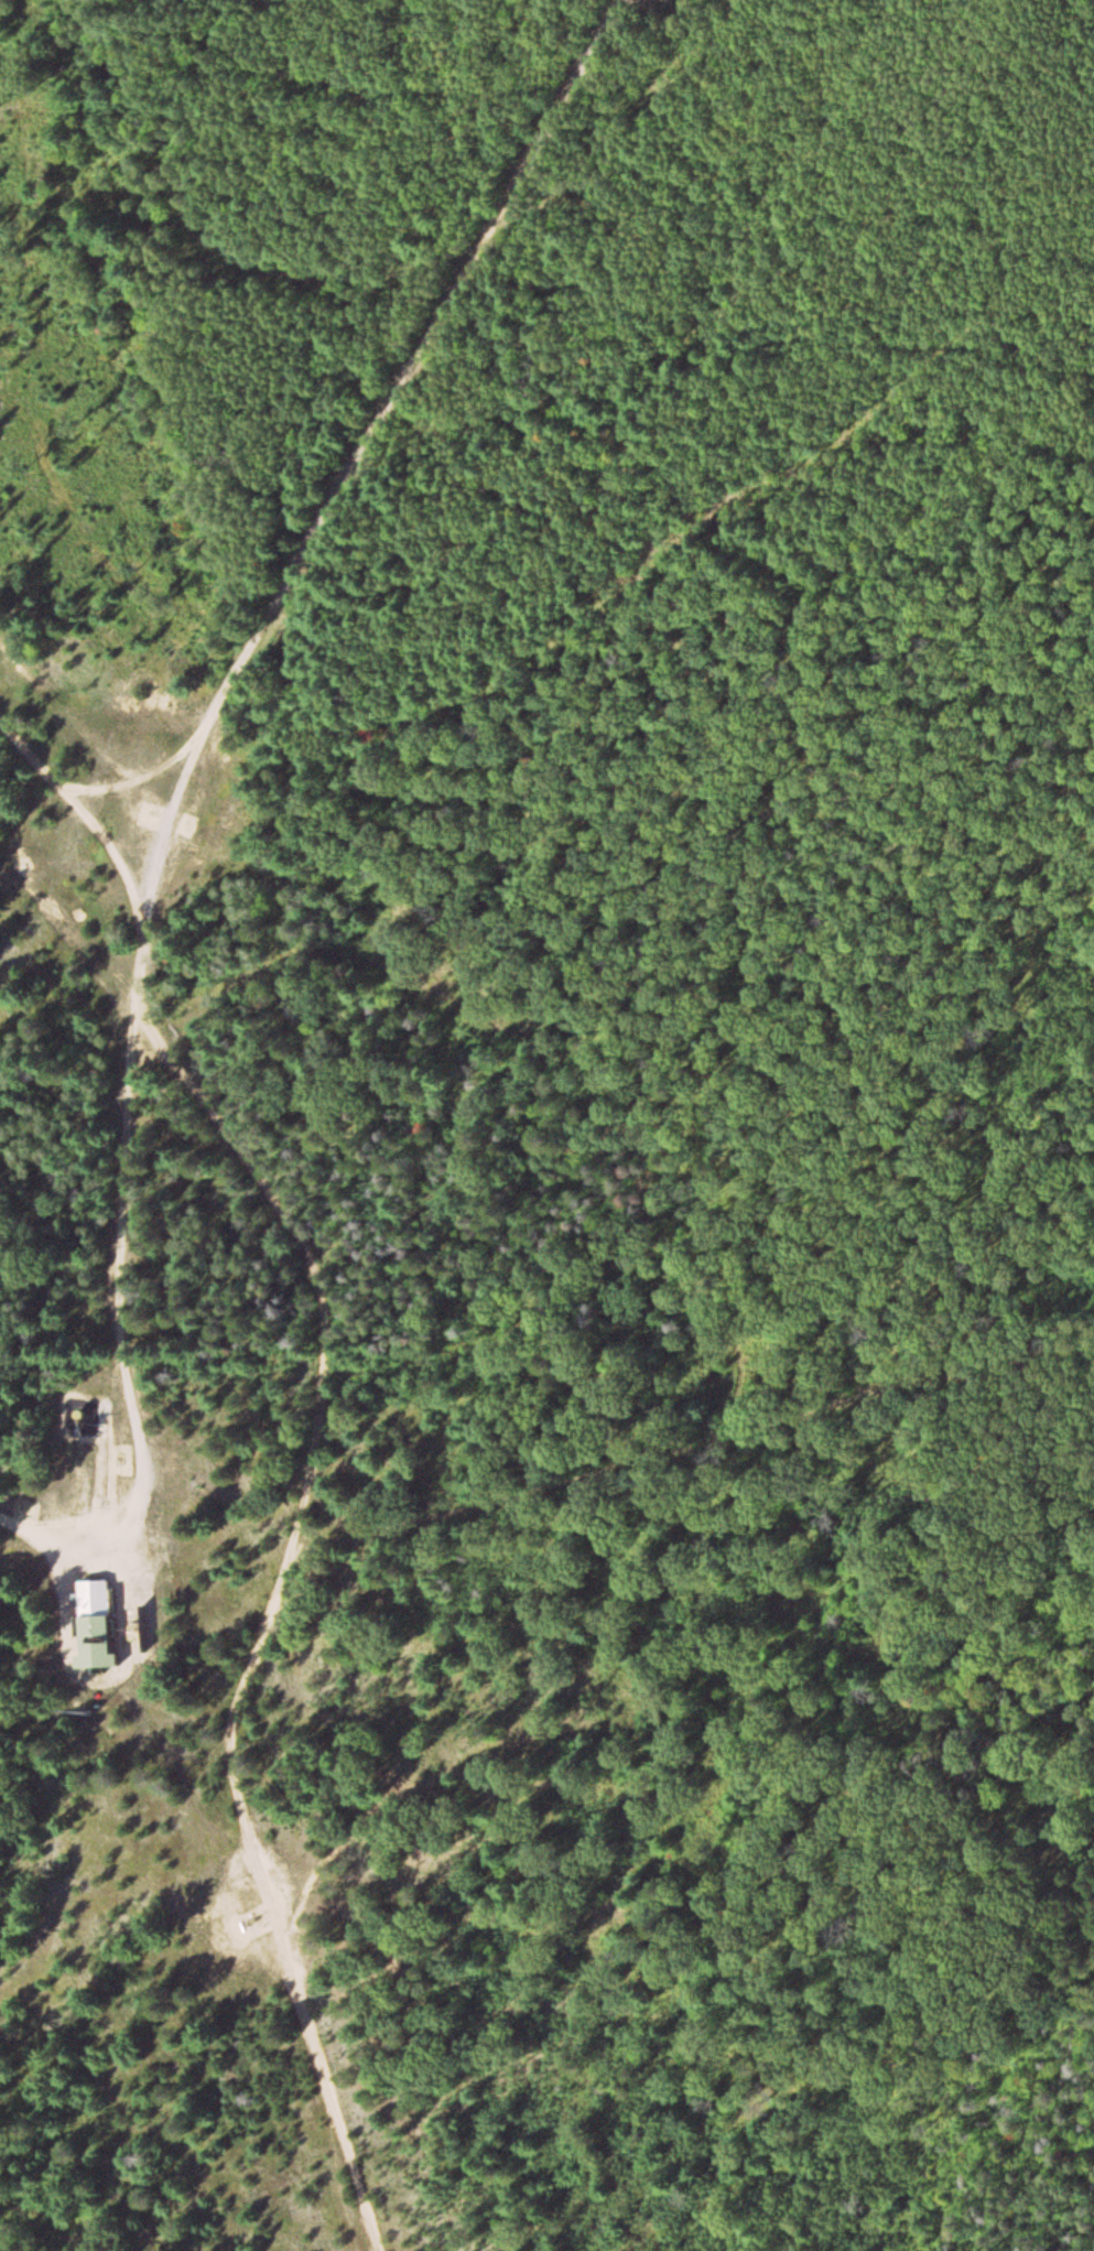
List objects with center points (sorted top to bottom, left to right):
road: (366, 429)
road: (116, 1176)
road: (690, 1450)
building: (98, 1609)
road: (270, 1612)
petroleum well: (251, 1924)

